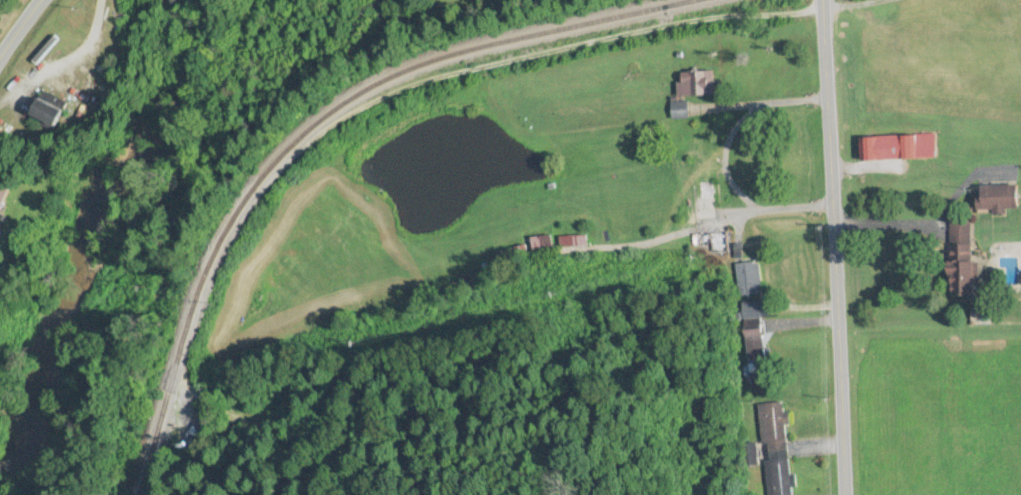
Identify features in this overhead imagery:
road: (20, 28)
building: (698, 85)
building: (50, 115)
railway: (316, 125)
building: (899, 148)
building: (704, 164)
building: (4, 198)
building: (1000, 199)
building: (712, 243)
road: (834, 247)
building: (511, 255)
building: (748, 279)
building: (964, 279)
building: (755, 351)
building: (776, 449)

